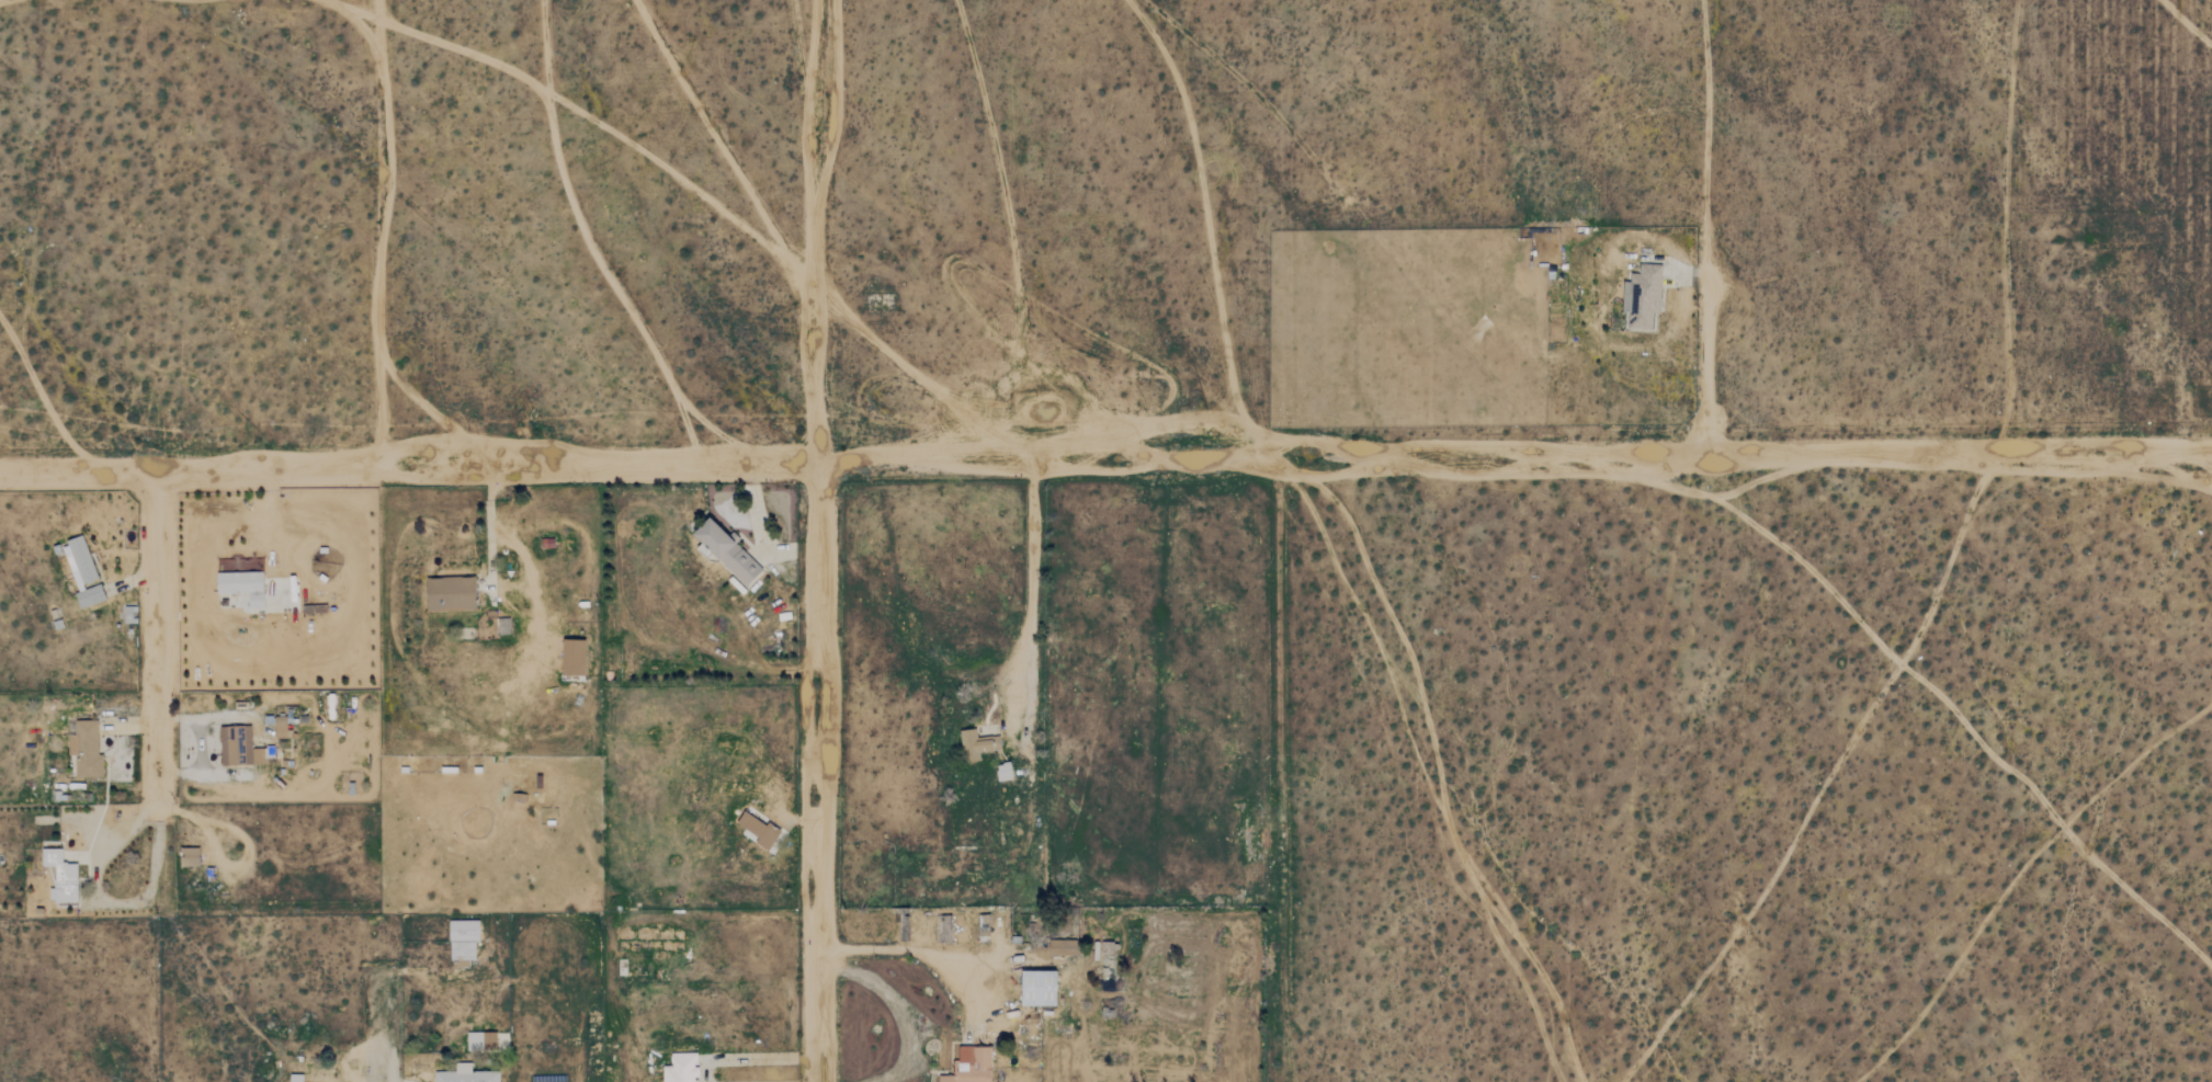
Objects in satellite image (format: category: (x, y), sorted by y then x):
road: (1702, 224)
building: (1642, 296)
road: (1105, 456)
road: (489, 521)
road: (818, 540)
building: (726, 551)
building: (81, 571)
road: (1028, 583)
building: (241, 585)
building: (450, 594)
building: (572, 657)
building: (276, 726)
building: (976, 744)
road: (200, 748)
building: (240, 748)
building: (84, 749)
building: (1002, 772)
road: (165, 777)
building: (756, 830)
building: (189, 856)
building: (59, 876)
building: (944, 927)
building: (462, 939)
road: (914, 946)
building: (1063, 947)
building: (1037, 987)
road: (901, 1009)
road: (384, 1036)
building: (480, 1039)
road: (752, 1058)
building: (969, 1066)
building: (680, 1068)
building: (465, 1074)
building: (295, 1078)

